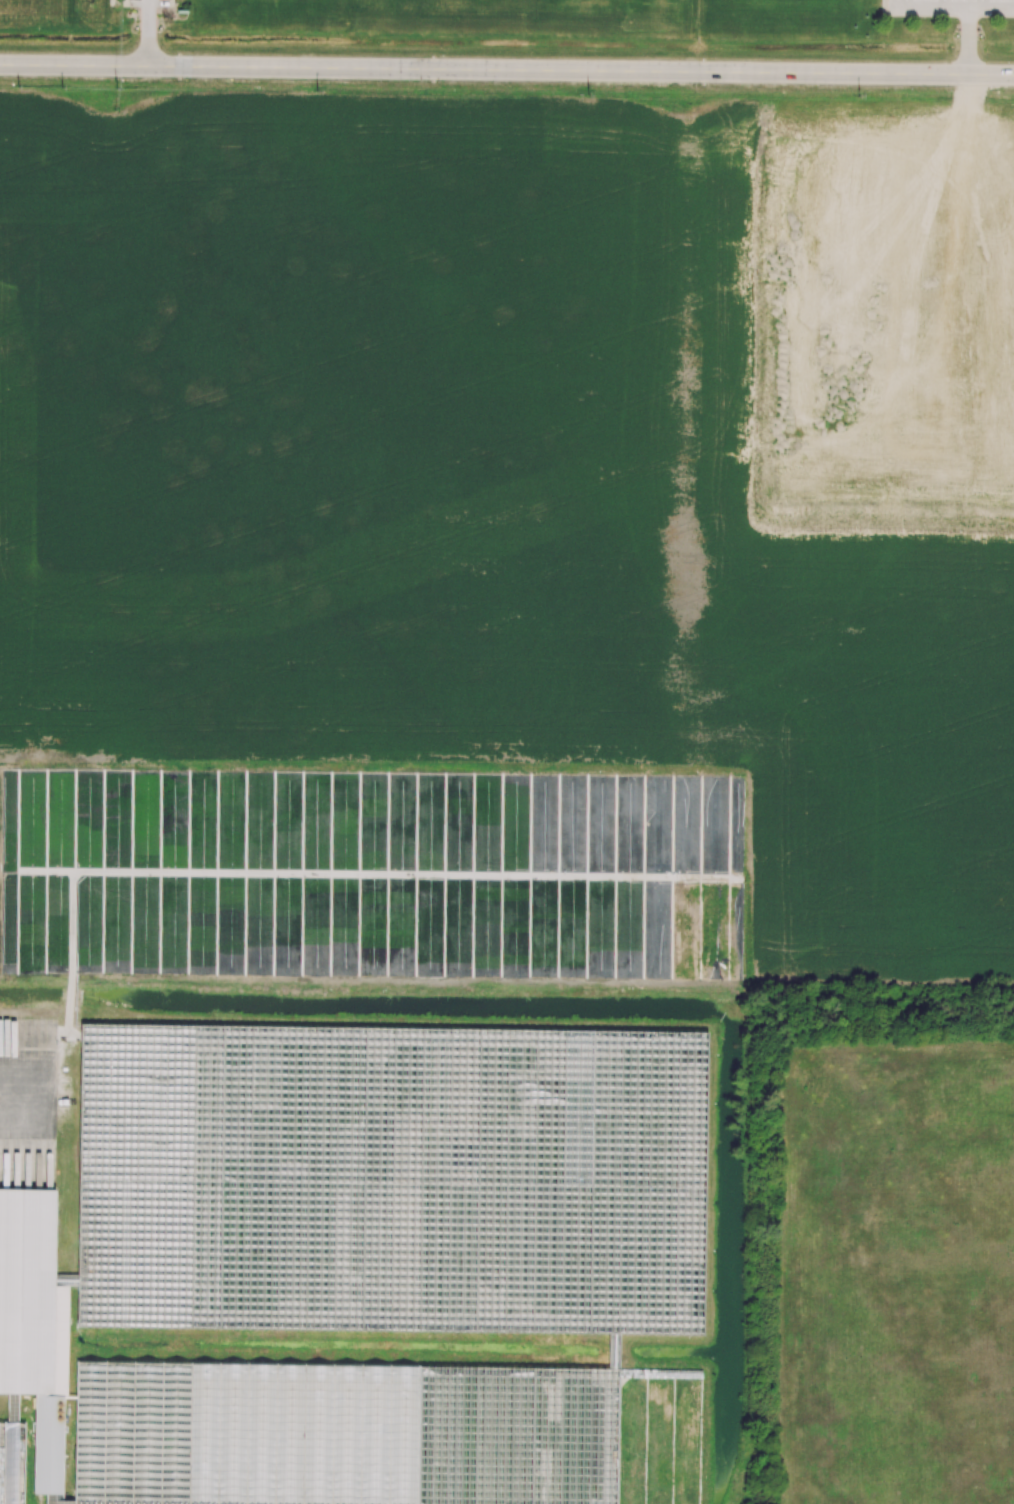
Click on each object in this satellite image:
parking lot: (953, 1)
parking lot: (149, 3)
road: (172, 3)
road: (906, 4)
road: (944, 5)
road: (982, 5)
road: (884, 8)
road: (936, 9)
road: (967, 19)
road: (149, 33)
road: (507, 69)
building: (102, 1067)
road: (18, 1097)
building: (97, 1299)
building: (53, 1354)

